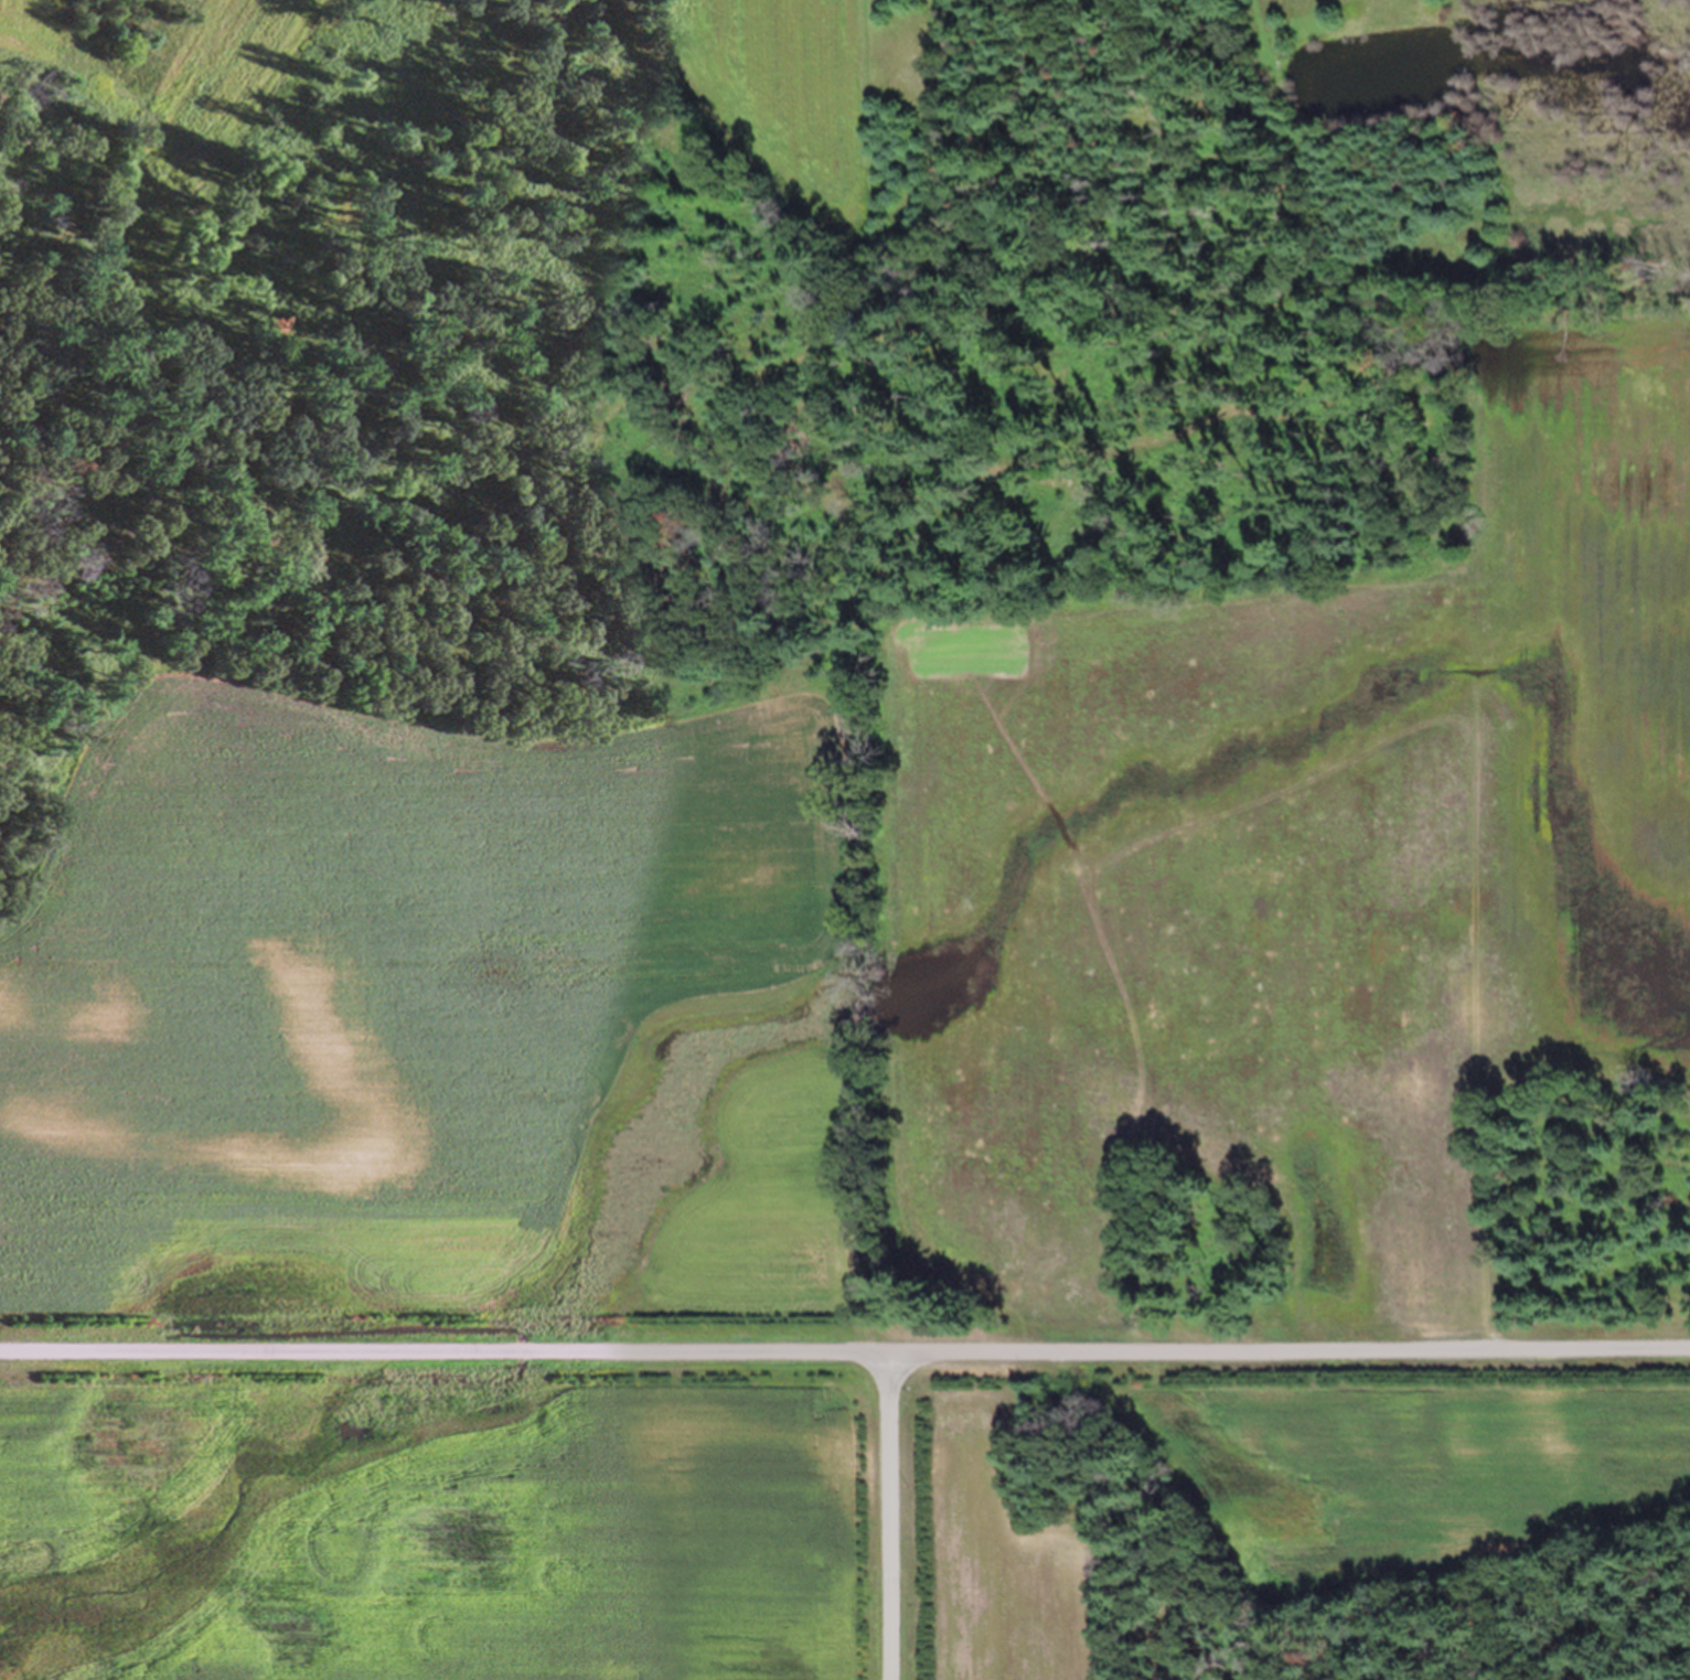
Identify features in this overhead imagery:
road: (845, 1357)
road: (885, 1519)

